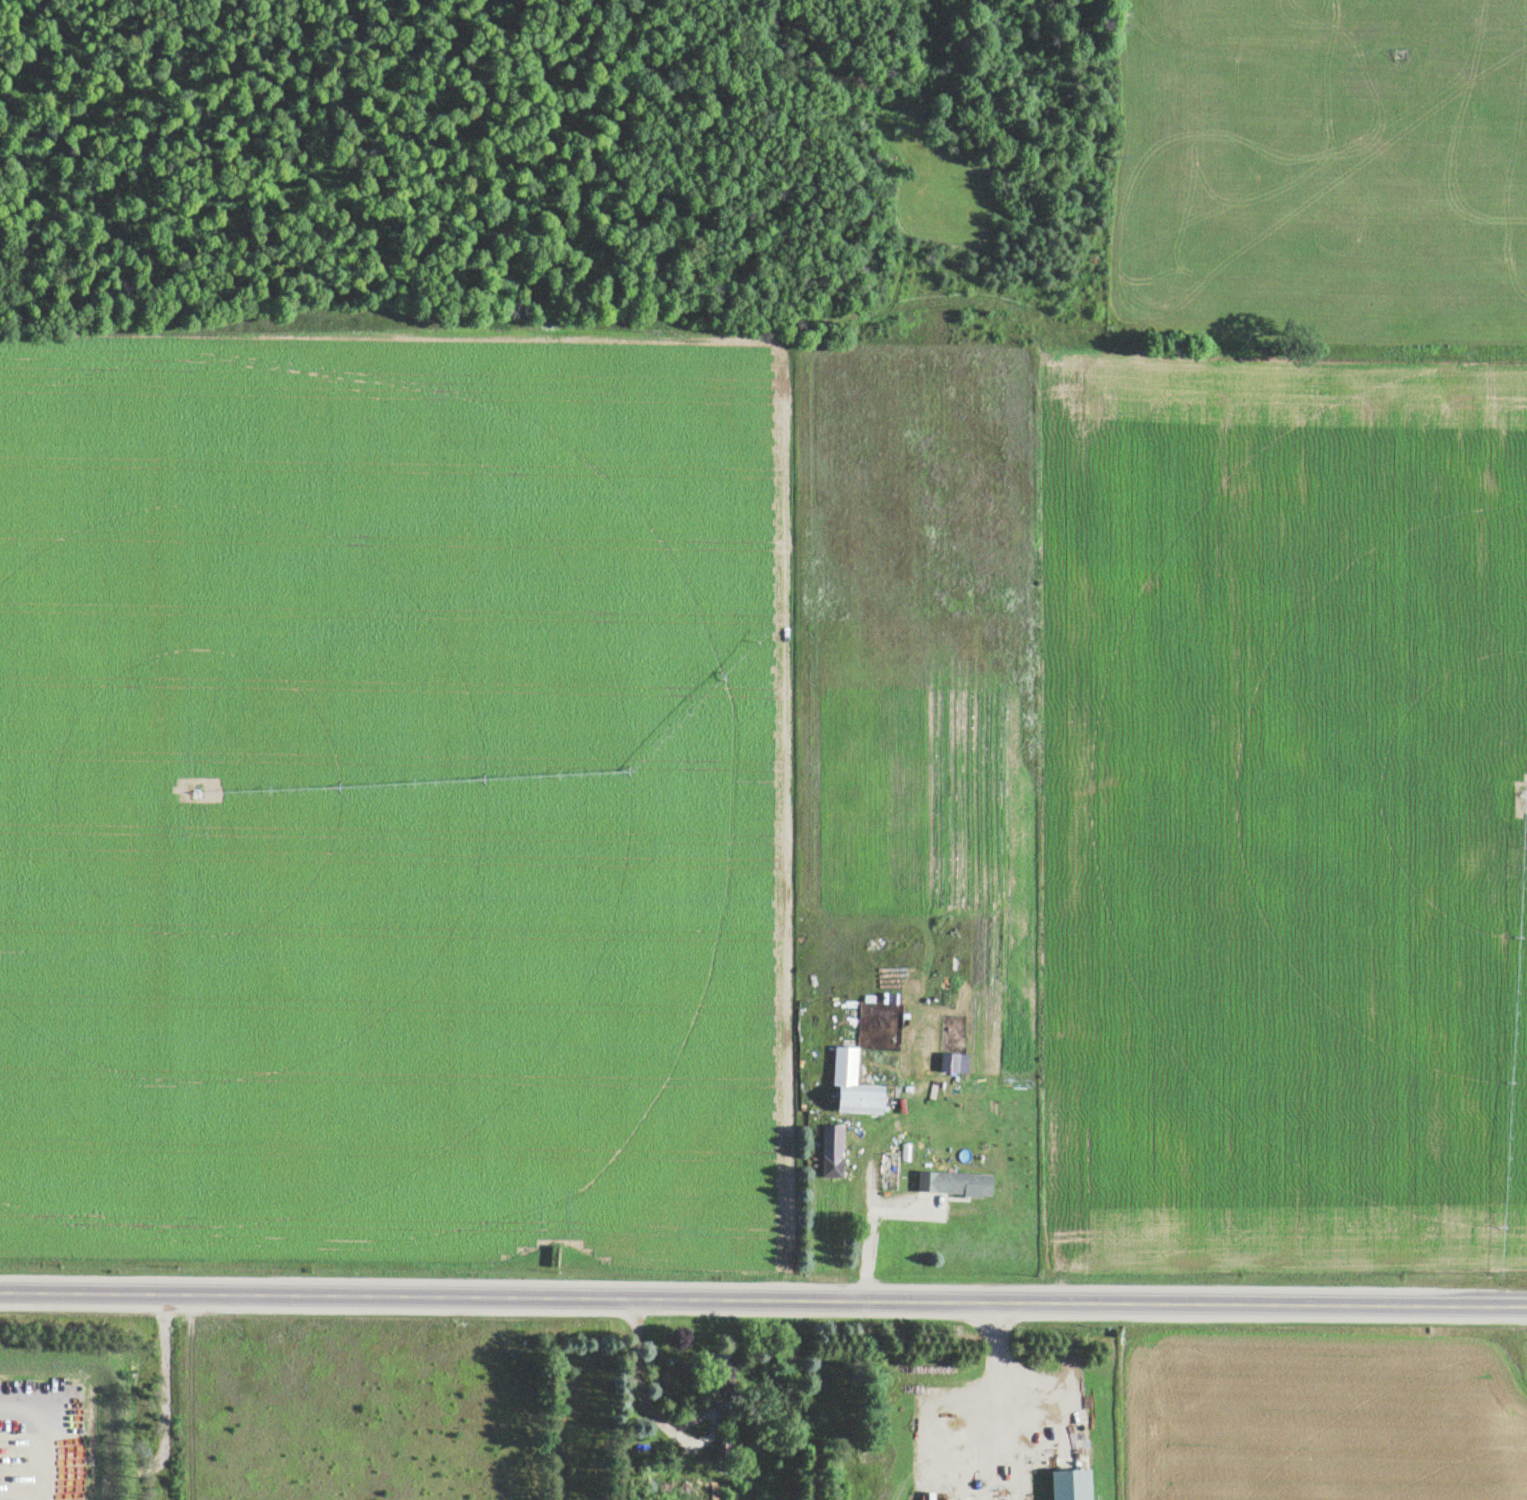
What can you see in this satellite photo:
building: (953, 1060)
building: (855, 1082)
building: (831, 1148)
building: (954, 1181)
road: (763, 1296)
building: (720, 1449)
building: (10, 1477)
building: (1072, 1483)

